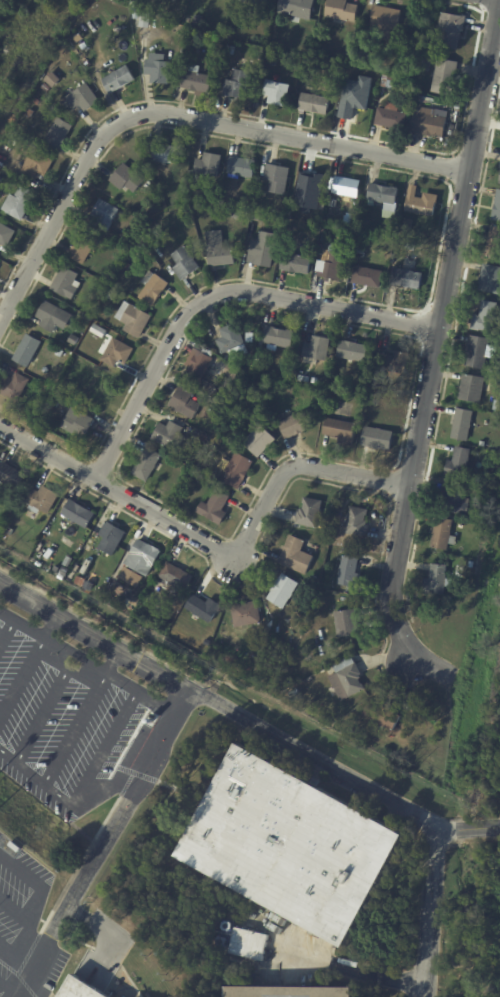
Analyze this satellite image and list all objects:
building: (253, 2)
building: (296, 8)
building: (340, 10)
building: (135, 15)
building: (195, 21)
building: (384, 21)
building: (229, 30)
building: (448, 30)
building: (193, 33)
building: (288, 44)
building: (82, 46)
building: (229, 50)
building: (349, 53)
building: (407, 57)
building: (157, 68)
building: (345, 73)
building: (443, 77)
building: (51, 79)
building: (117, 79)
building: (195, 81)
building: (389, 82)
building: (236, 84)
building: (44, 87)
building: (275, 92)
building: (380, 92)
building: (81, 97)
building: (424, 99)
building: (37, 100)
building: (313, 104)
building: (353, 106)
building: (29, 113)
road: (179, 115)
building: (390, 117)
building: (427, 123)
building: (57, 134)
building: (164, 154)
building: (35, 164)
building: (209, 165)
building: (241, 167)
building: (276, 178)
building: (126, 179)
building: (0, 180)
building: (499, 182)
building: (311, 184)
building: (345, 186)
building: (383, 195)
building: (263, 200)
building: (17, 203)
building: (419, 203)
building: (497, 207)
building: (101, 215)
building: (406, 225)
building: (301, 227)
building: (5, 235)
building: (124, 236)
building: (494, 242)
building: (362, 243)
building: (81, 247)
building: (217, 252)
building: (261, 253)
building: (183, 263)
building: (295, 263)
building: (125, 266)
building: (331, 266)
building: (365, 276)
building: (405, 279)
building: (490, 280)
building: (64, 283)
building: (151, 288)
road: (216, 293)
building: (110, 295)
building: (52, 318)
building: (485, 318)
building: (132, 319)
building: (97, 331)
building: (275, 338)
building: (229, 339)
building: (72, 340)
road: (435, 346)
building: (316, 349)
building: (26, 351)
building: (83, 352)
building: (352, 352)
building: (116, 353)
building: (478, 353)
building: (392, 362)
building: (200, 369)
building: (231, 372)
building: (301, 379)
building: (12, 386)
building: (383, 386)
building: (474, 388)
building: (100, 391)
building: (182, 404)
building: (52, 405)
building: (212, 410)
building: (77, 423)
building: (294, 425)
building: (462, 425)
building: (339, 431)
building: (168, 436)
building: (376, 439)
building: (257, 440)
building: (482, 444)
building: (188, 458)
building: (458, 464)
building: (145, 465)
building: (236, 471)
building: (9, 476)
building: (485, 480)
building: (453, 500)
building: (41, 501)
building: (213, 508)
building: (77, 514)
building: (309, 514)
building: (356, 522)
building: (8, 531)
building: (442, 535)
building: (109, 539)
building: (76, 548)
road: (214, 548)
building: (71, 554)
building: (295, 556)
building: (141, 558)
building: (79, 563)
building: (471, 565)
building: (348, 573)
building: (129, 576)
building: (175, 578)
building: (313, 580)
road: (2, 581)
building: (436, 581)
building: (79, 582)
building: (281, 592)
building: (202, 609)
building: (245, 614)
building: (346, 624)
road: (57, 625)
building: (204, 638)
road: (70, 649)
road: (112, 660)
building: (330, 683)
road: (158, 707)
road: (244, 715)
building: (382, 716)
road: (112, 786)
road: (82, 790)
road: (105, 845)
building: (290, 845)
building: (14, 846)
building: (37, 864)
road: (37, 880)
building: (51, 882)
road: (17, 910)
road: (434, 910)
road: (115, 936)
building: (248, 944)
road: (12, 945)
road: (26, 946)
road: (351, 966)
road: (10, 986)
building: (81, 989)
building: (289, 992)

